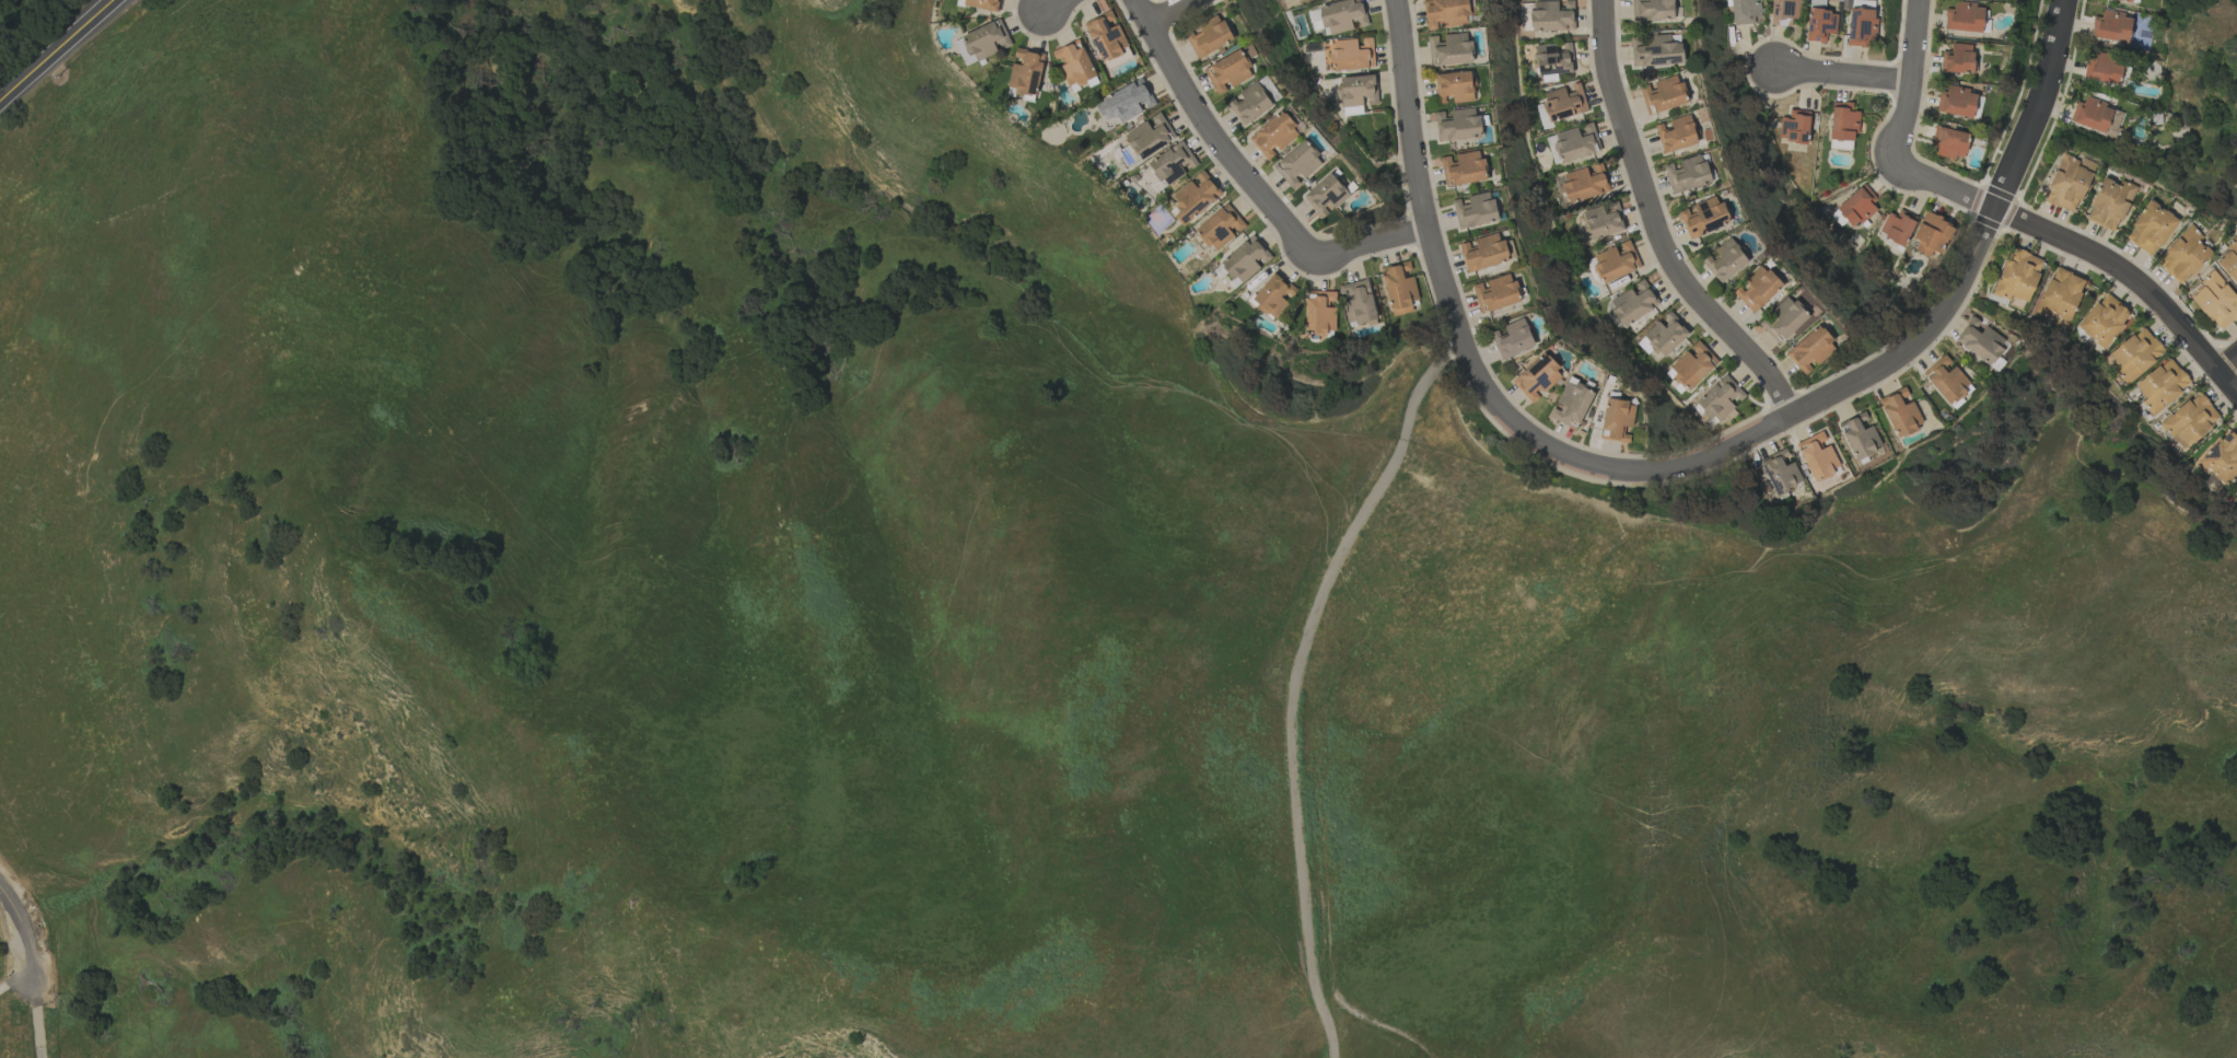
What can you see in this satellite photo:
building: (2130, 0)
building: (981, 4)
road: (1052, 4)
road: (1165, 10)
building: (1651, 10)
building: (1783, 11)
building: (1744, 12)
building: (1445, 13)
building: (1342, 15)
building: (1551, 15)
building: (1965, 16)
building: (1314, 20)
building: (1819, 22)
building: (2111, 26)
building: (1861, 27)
building: (1105, 36)
building: (1208, 36)
building: (981, 42)
building: (1448, 49)
road: (57, 50)
building: (1656, 51)
building: (1351, 54)
building: (1553, 58)
building: (1957, 59)
building: (1072, 63)
building: (2102, 69)
building: (1024, 72)
building: (1227, 72)
road: (1843, 72)
building: (1454, 86)
building: (1356, 91)
building: (1663, 94)
building: (1125, 102)
building: (1563, 102)
building: (1956, 102)
building: (1249, 103)
building: (2095, 116)
building: (1843, 121)
building: (1457, 125)
building: (1794, 127)
building: (1676, 133)
building: (1273, 135)
road: (1896, 135)
building: (1149, 136)
building: (1575, 142)
building: (1949, 142)
building: (1297, 164)
building: (1168, 165)
building: (1463, 168)
building: (1687, 174)
road: (1248, 178)
building: (1584, 183)
building: (2067, 183)
building: (1325, 195)
building: (1193, 197)
building: (2109, 204)
building: (1857, 206)
building: (1473, 210)
building: (1703, 217)
building: (1601, 220)
road: (1656, 226)
building: (1897, 226)
building: (1220, 228)
building: (2149, 228)
building: (1931, 234)
road: (1977, 244)
building: (2183, 255)
building: (1245, 259)
building: (1724, 260)
building: (1615, 261)
building: (2228, 261)
building: (2017, 276)
road: (2130, 278)
building: (1399, 288)
building: (1757, 289)
building: (1494, 293)
building: (2059, 294)
building: (1271, 295)
building: (2214, 300)
building: (1358, 301)
building: (1633, 302)
building: (1319, 312)
building: (1783, 319)
building: (2104, 319)
building: (1665, 335)
building: (1512, 338)
building: (1981, 344)
building: (1810, 350)
building: (2135, 353)
road: (2227, 360)
road: (1471, 363)
building: (1692, 365)
building: (1537, 377)
building: (1947, 380)
building: (2162, 385)
building: (1718, 398)
building: (1571, 404)
building: (1900, 412)
building: (1617, 419)
building: (2189, 420)
building: (1859, 437)
building: (1817, 455)
building: (2222, 457)
building: (1780, 473)
road: (1295, 681)
road: (30, 970)
road: (14, 980)

